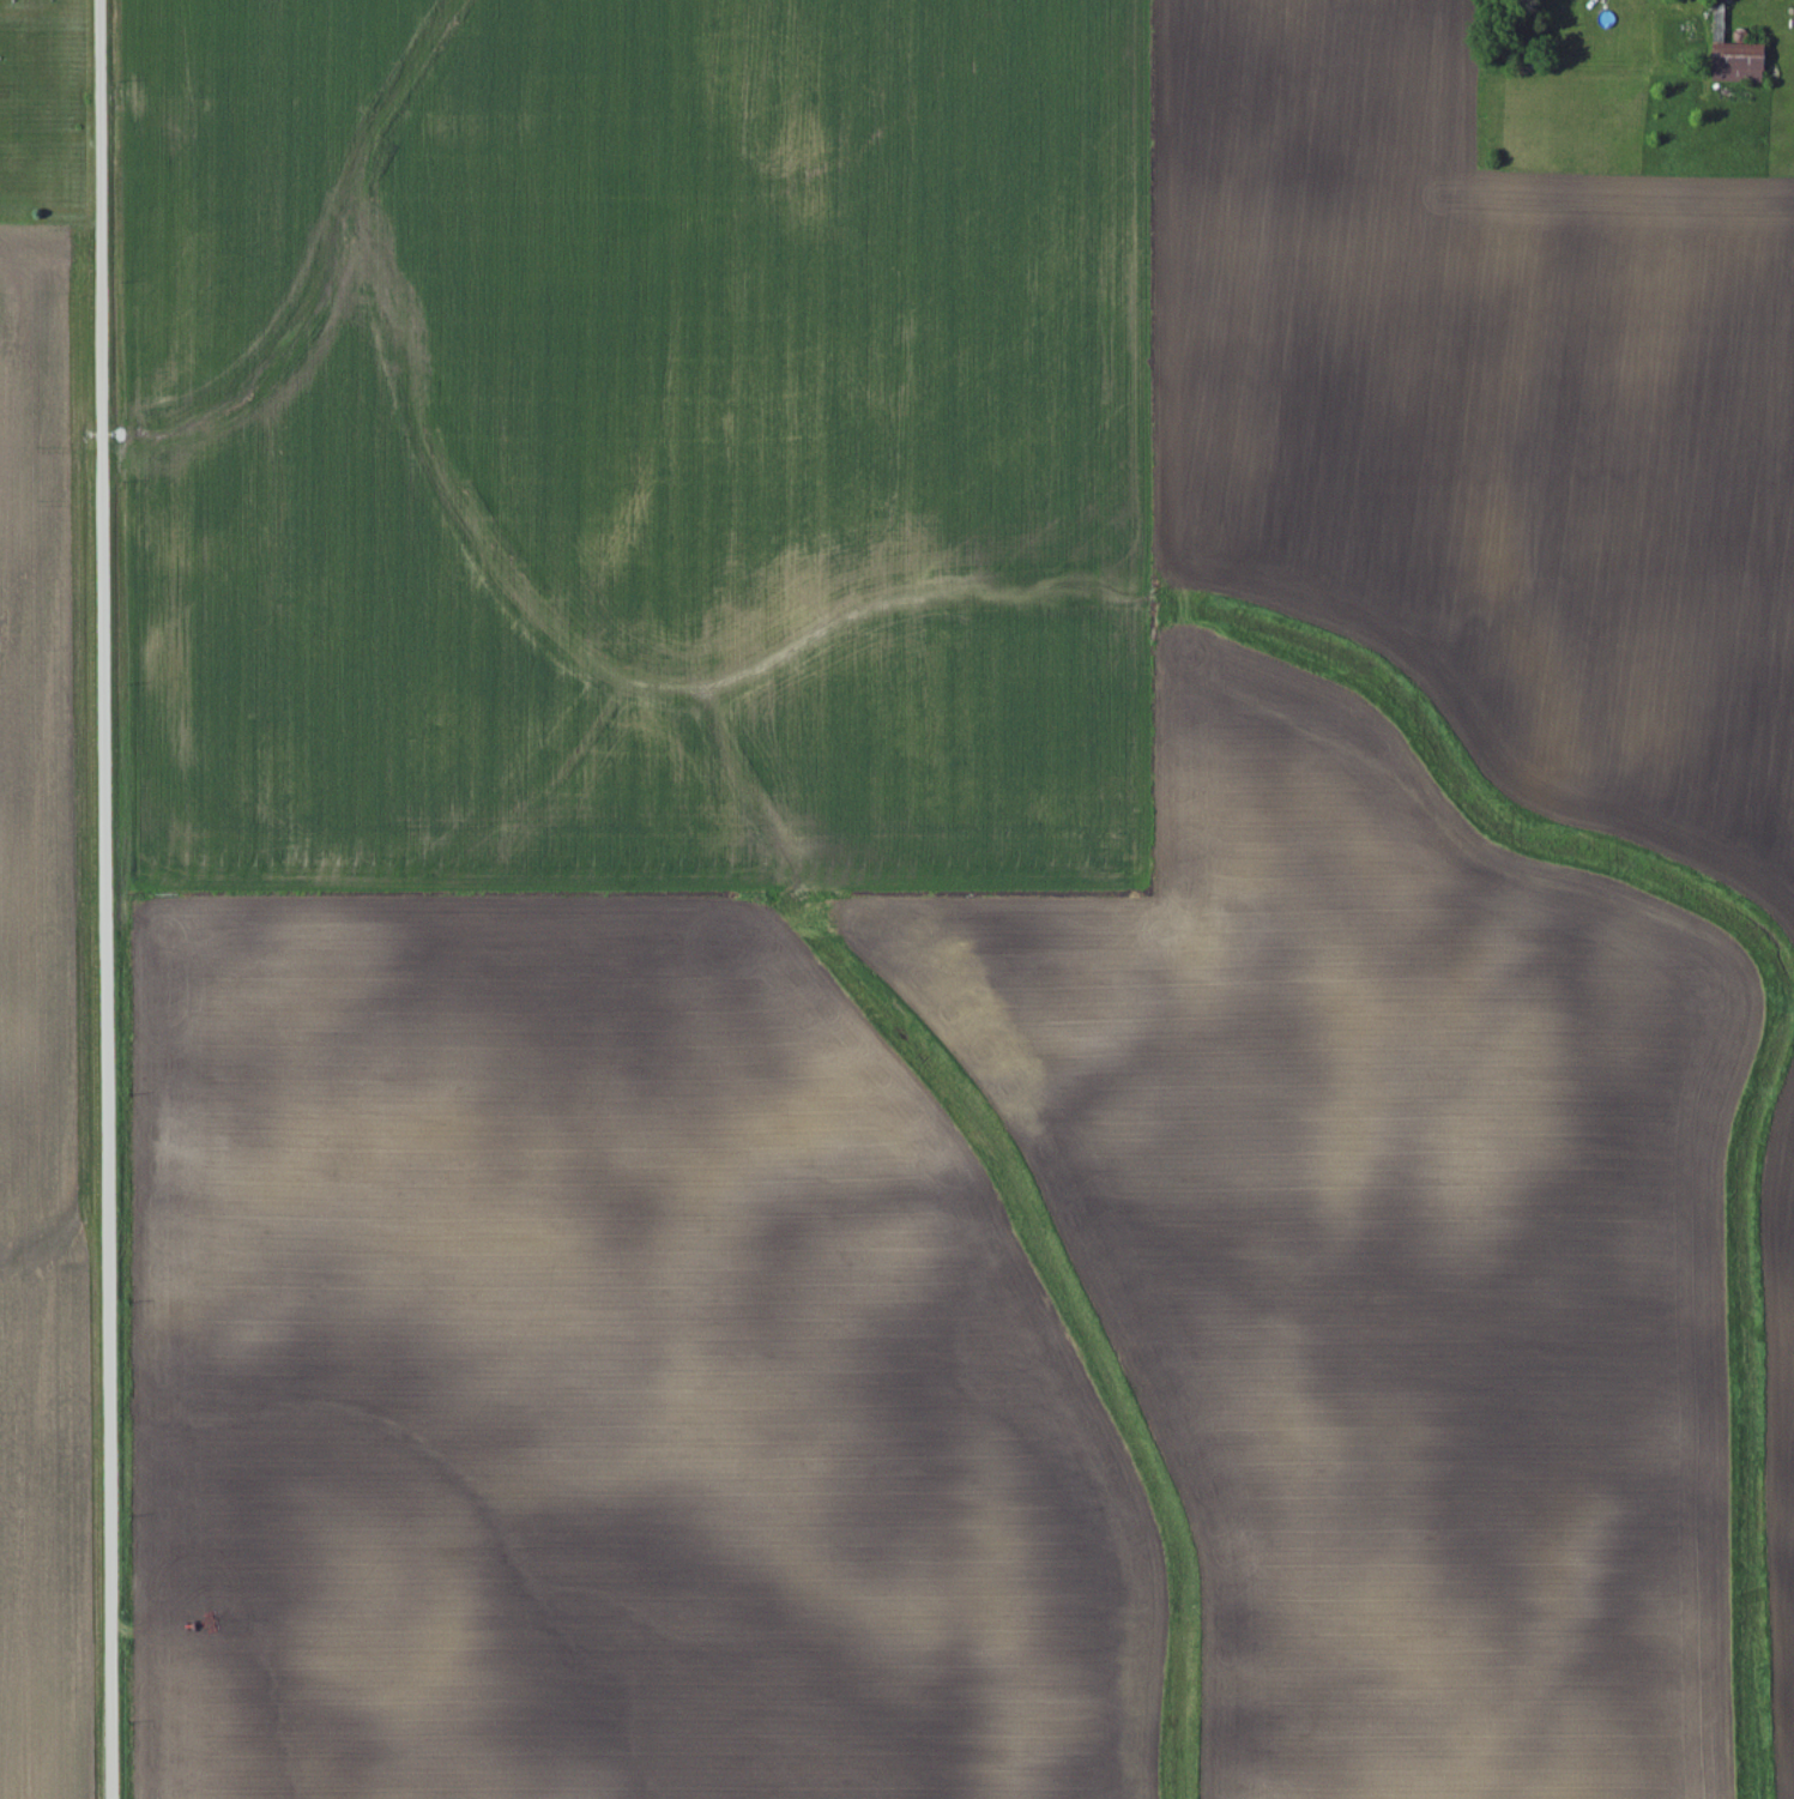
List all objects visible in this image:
park: (40, 109)
road: (99, 899)

